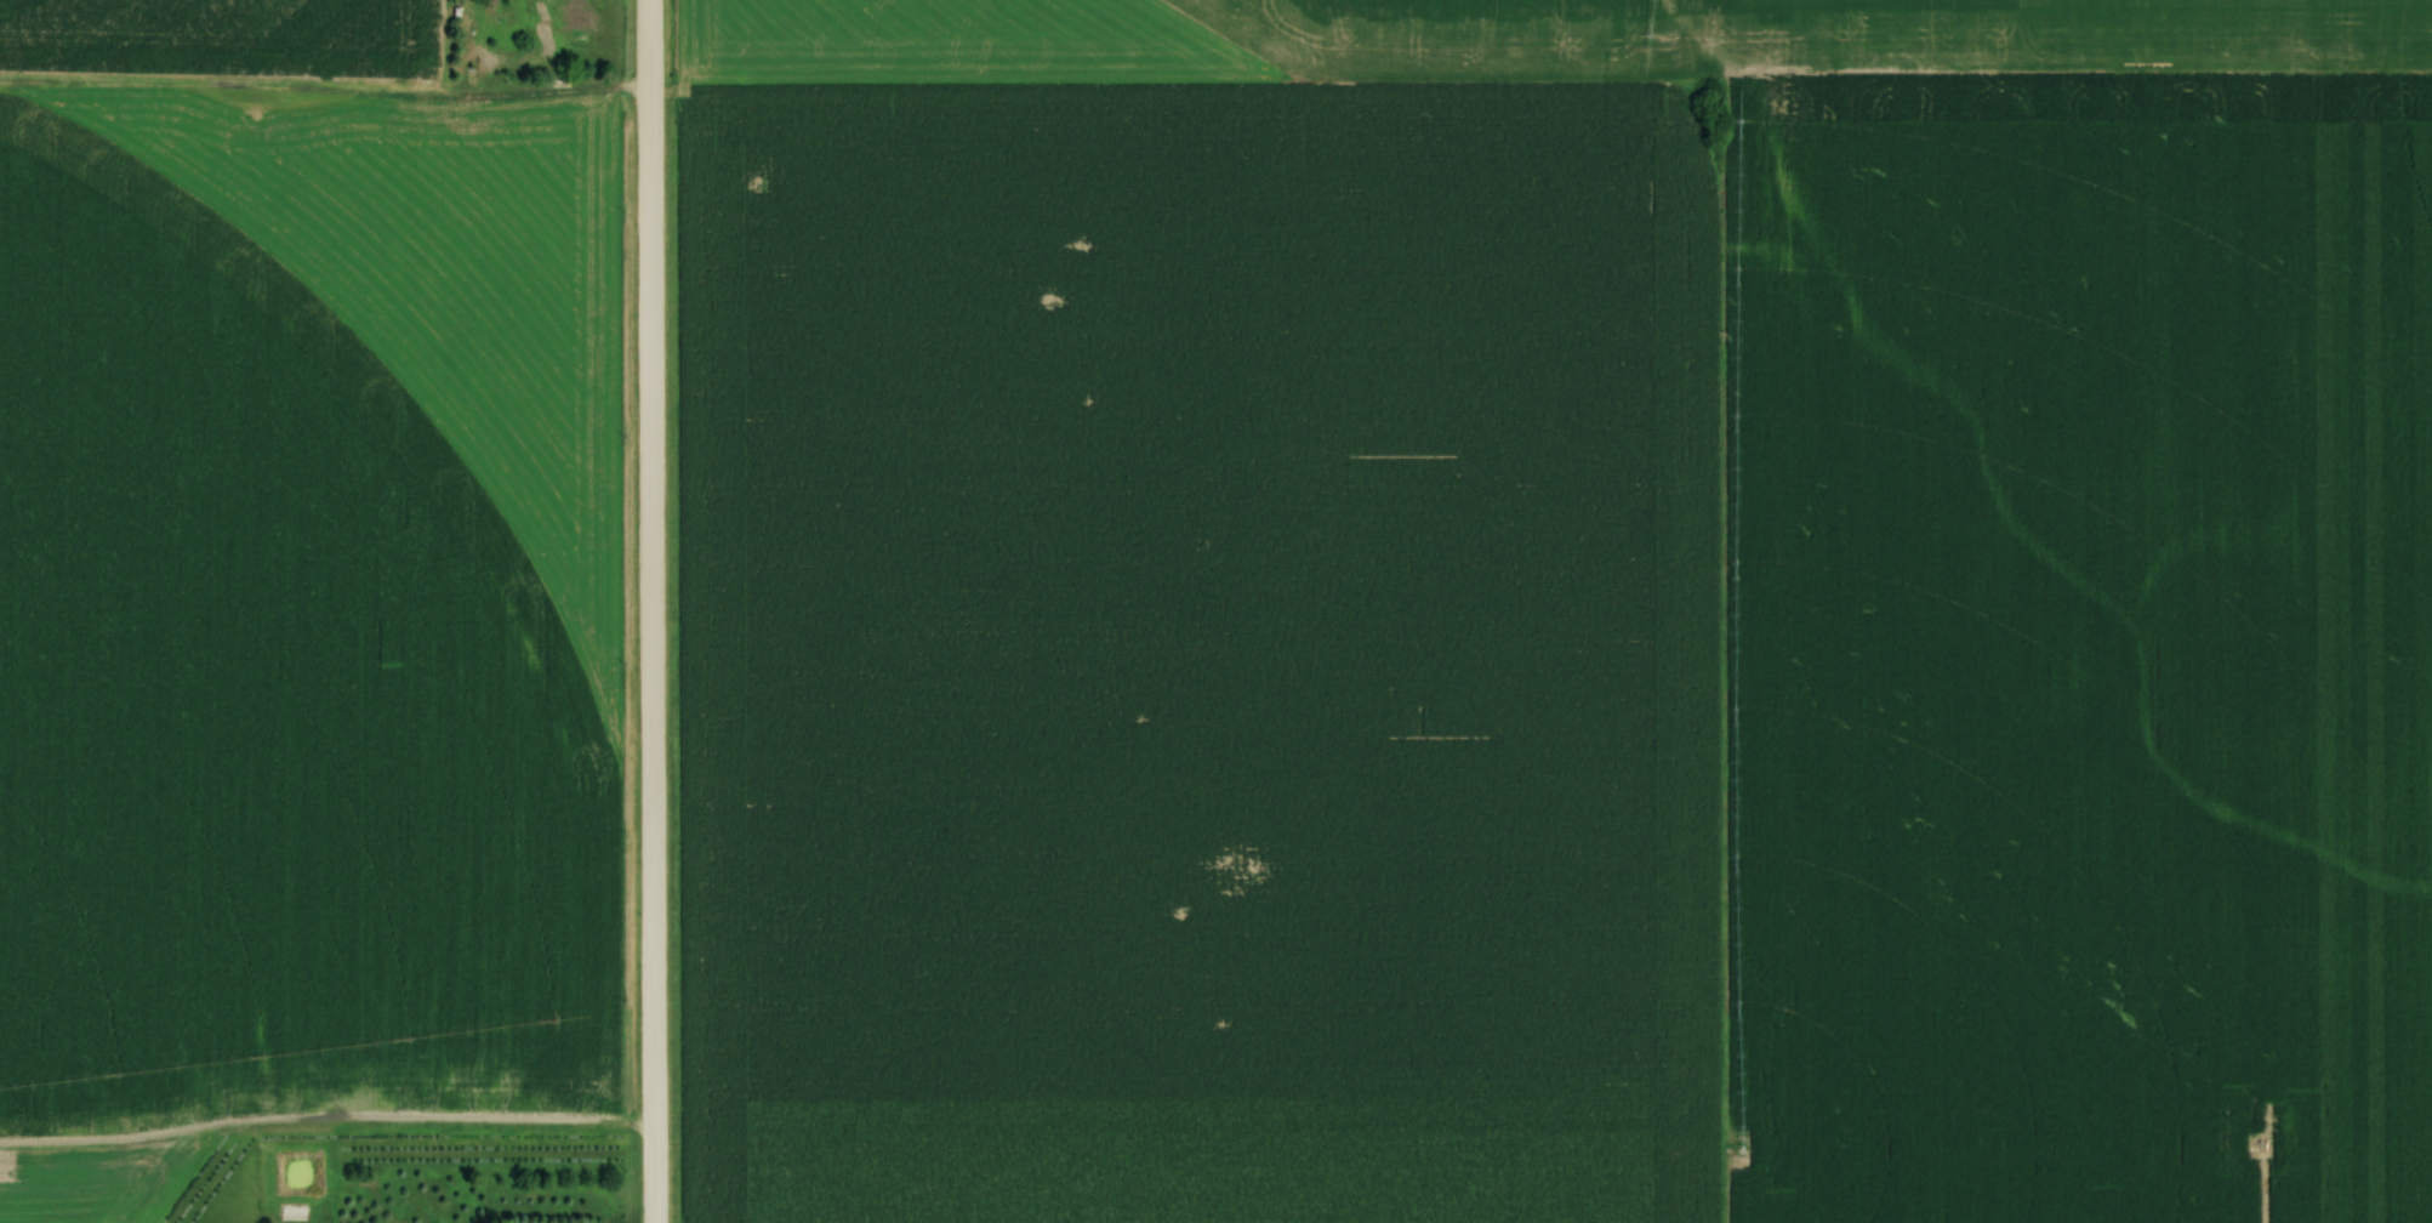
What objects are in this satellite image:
building: (582, 24)
road: (323, 92)
road: (651, 611)

